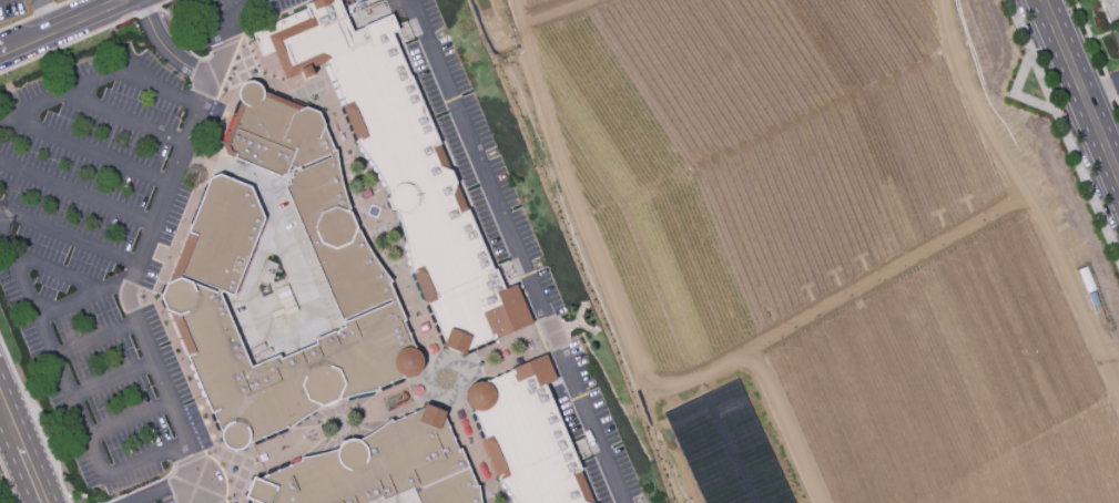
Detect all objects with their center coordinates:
road: (164, 3)
crop: (536, 3)
building: (1110, 9)
road: (145, 11)
road: (45, 14)
road: (82, 17)
parking lot: (226, 18)
road: (1090, 37)
road: (20, 44)
road: (68, 44)
road: (166, 49)
road: (102, 78)
road: (1111, 85)
road: (1100, 89)
road: (1079, 90)
road: (1013, 94)
road: (1118, 100)
road: (128, 120)
road: (1061, 133)
road: (91, 152)
crop: (755, 155)
building: (401, 165)
road: (79, 194)
fountain: (372, 213)
road: (71, 238)
road: (150, 247)
road: (390, 250)
road: (517, 251)
parking lot: (101, 255)
parking lot: (523, 258)
building: (210, 269)
road: (58, 271)
road: (89, 295)
road: (305, 298)
road: (98, 340)
road: (114, 380)
crop: (953, 384)
road: (70, 393)
road: (378, 408)
road: (41, 419)
road: (131, 419)
building: (527, 437)
road: (20, 454)
building: (379, 468)
road: (8, 482)
road: (143, 487)
road: (166, 487)
road: (192, 492)
parking lot: (399, 499)
parking lot: (233, 502)

